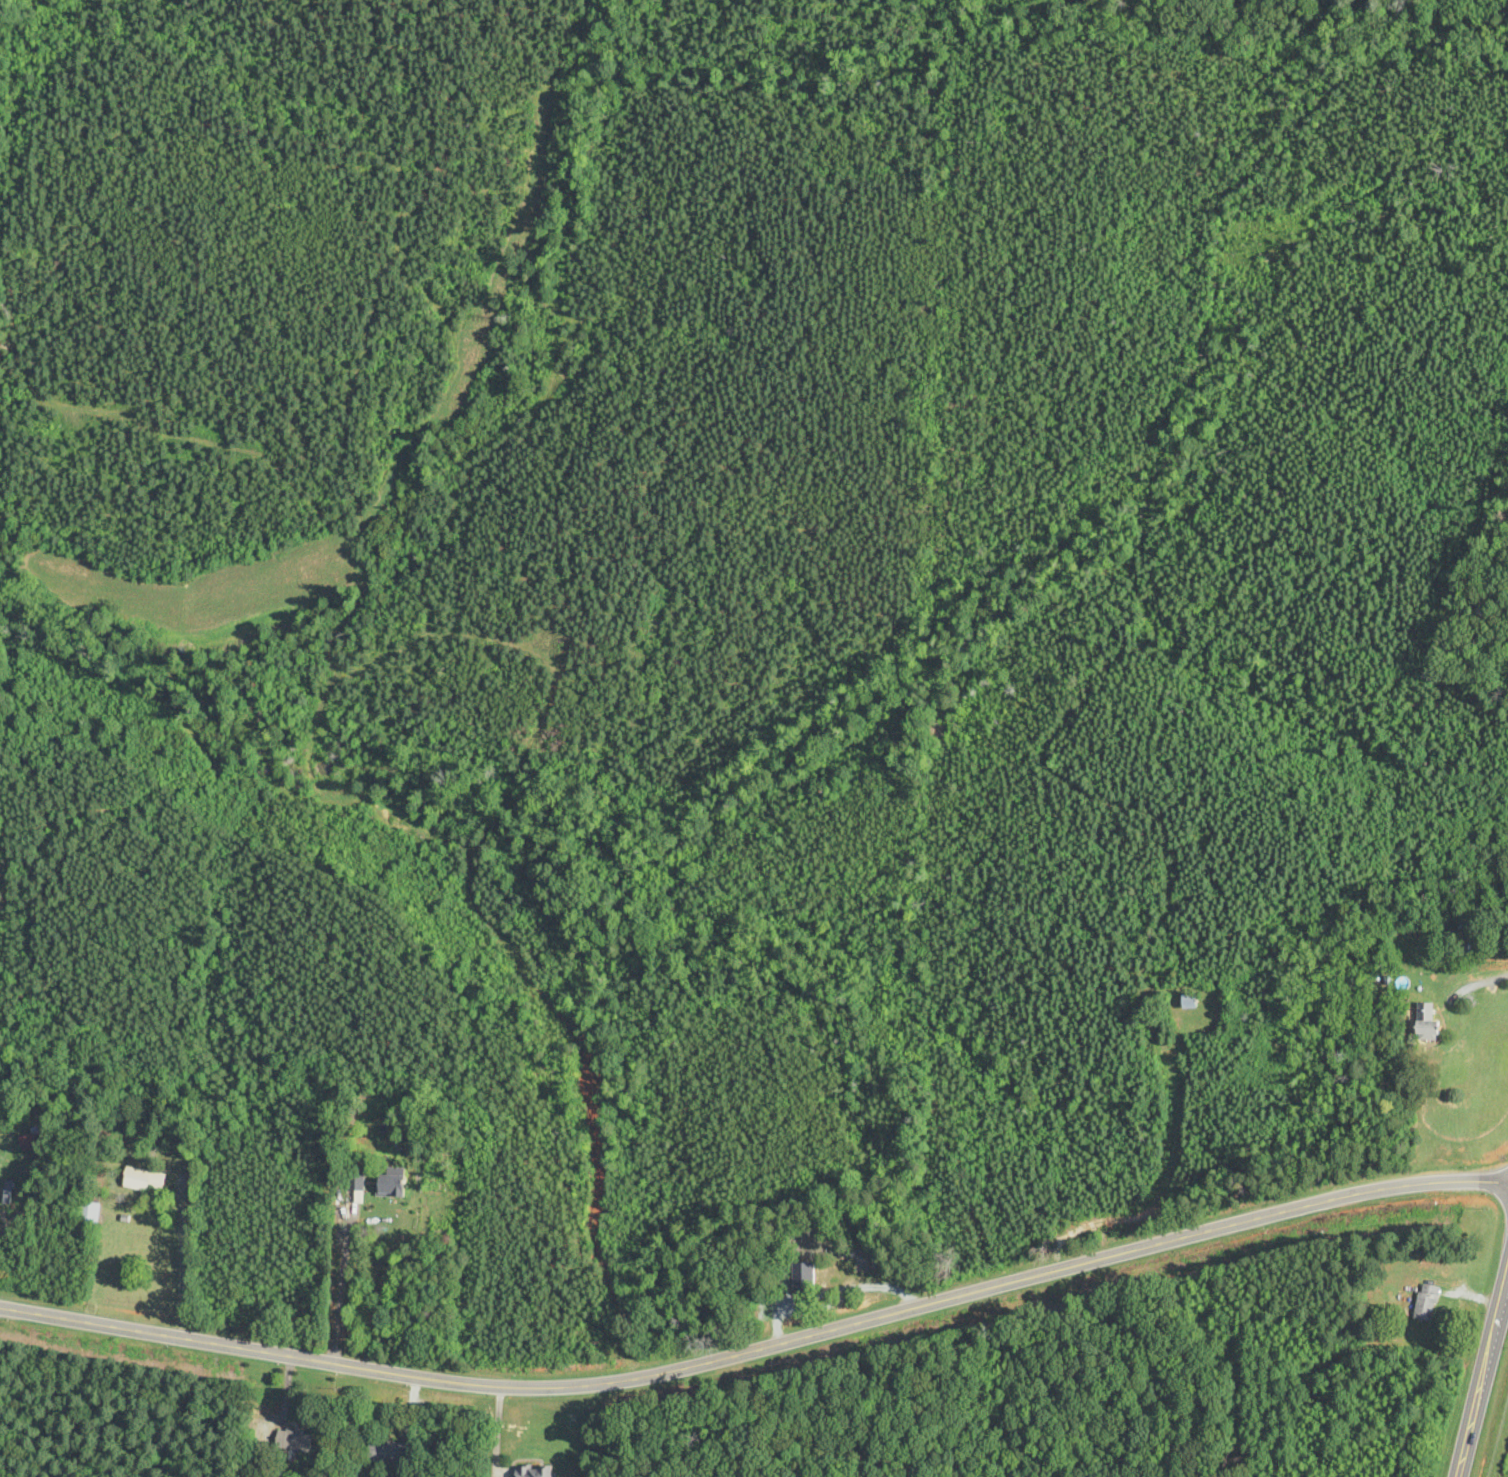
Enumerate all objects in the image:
building: (1428, 1023)
building: (28, 1142)
building: (144, 1180)
building: (390, 1185)
building: (88, 1214)
park: (845, 1236)
building: (804, 1278)
building: (1427, 1303)
road: (759, 1350)
road: (1483, 1375)
building: (298, 1441)
building: (390, 1453)
building: (534, 1472)

